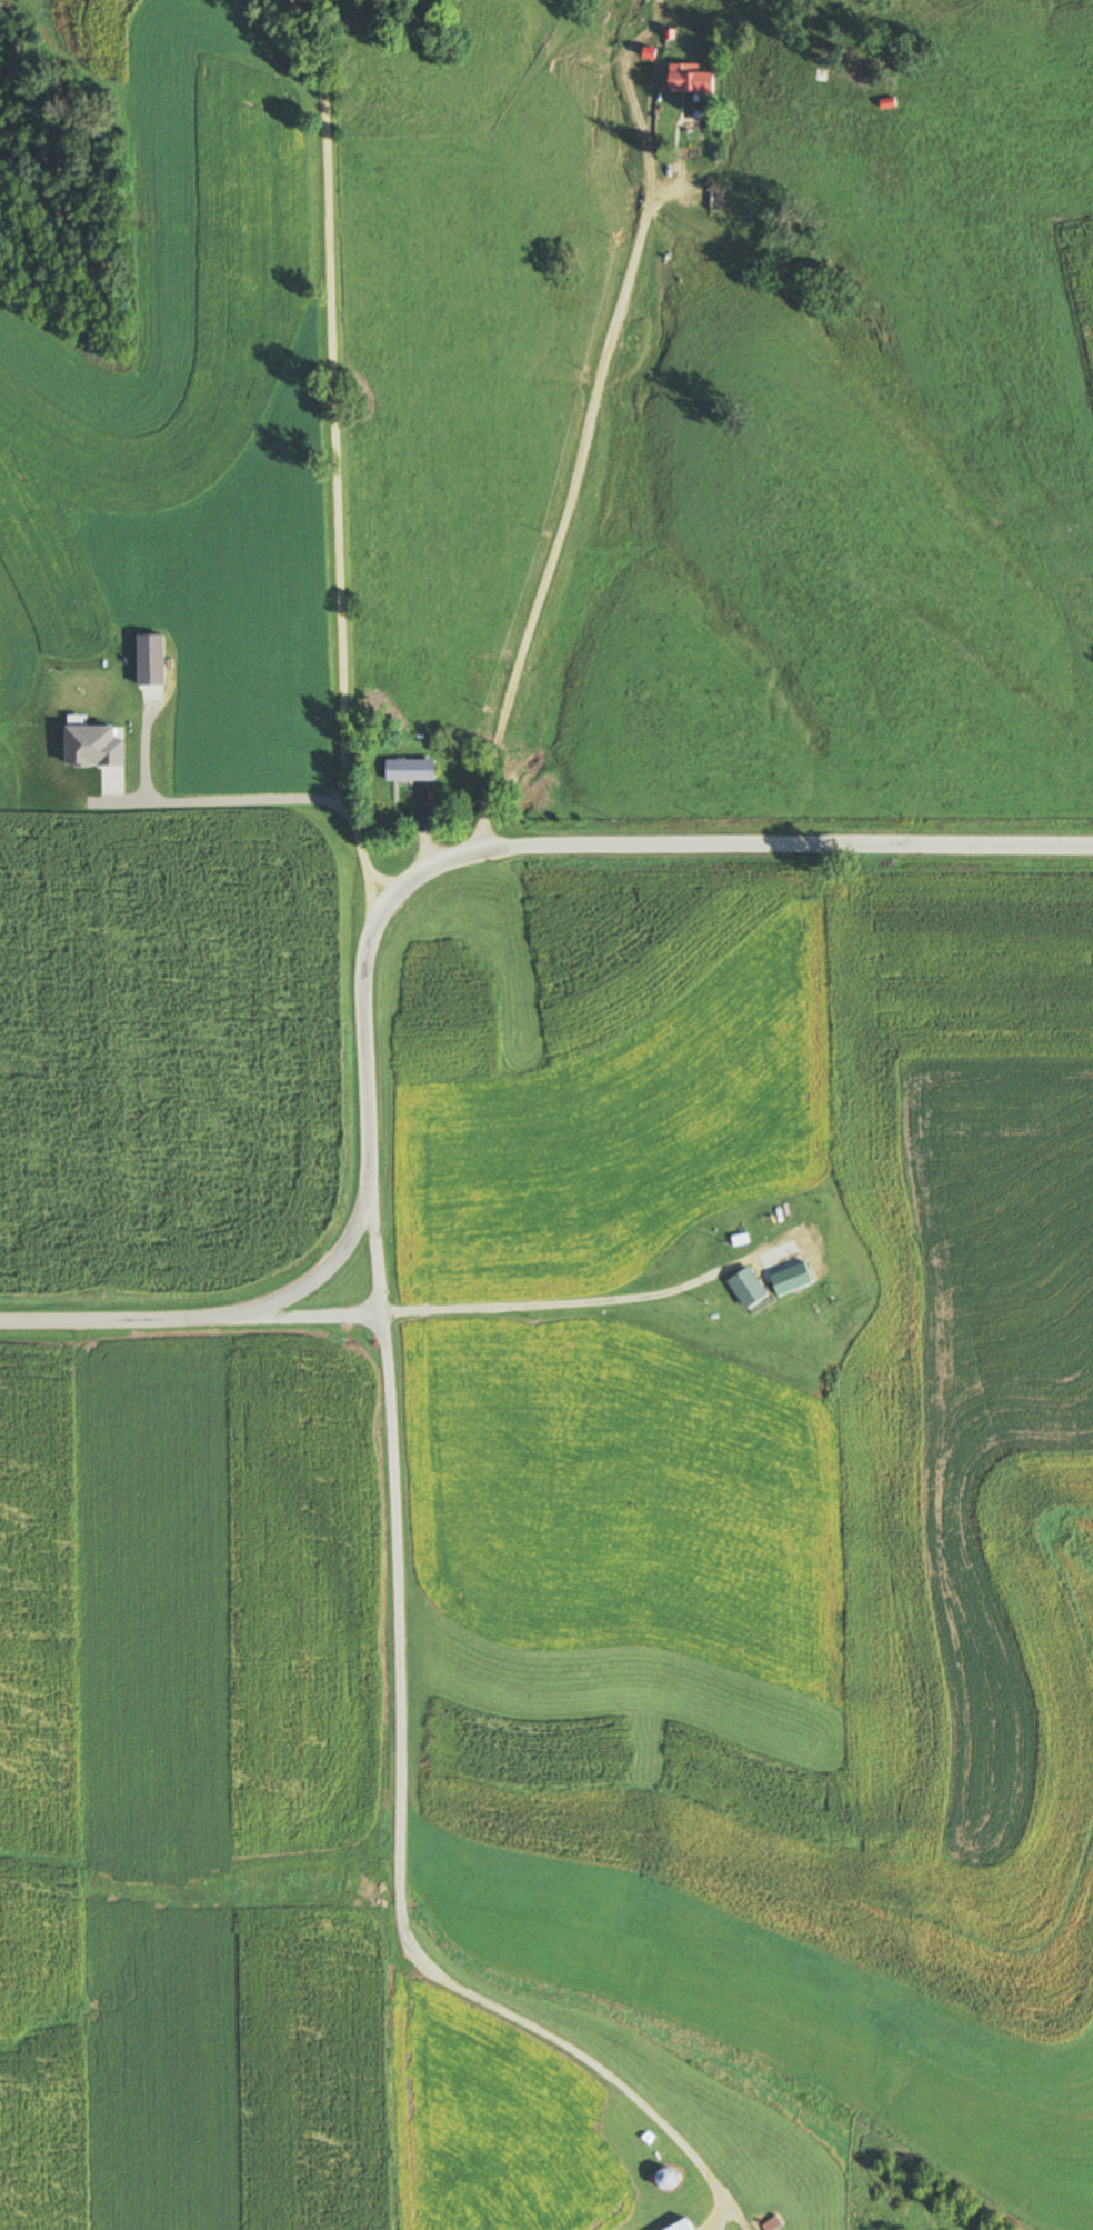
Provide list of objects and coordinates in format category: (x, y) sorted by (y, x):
building: (691, 80)
road: (575, 422)
road: (334, 444)
building: (413, 770)
road: (728, 837)
road: (378, 1291)
road: (582, 1300)
road: (395, 1639)
road: (605, 2071)
building: (666, 2163)
building: (774, 2224)
building: (685, 2226)

